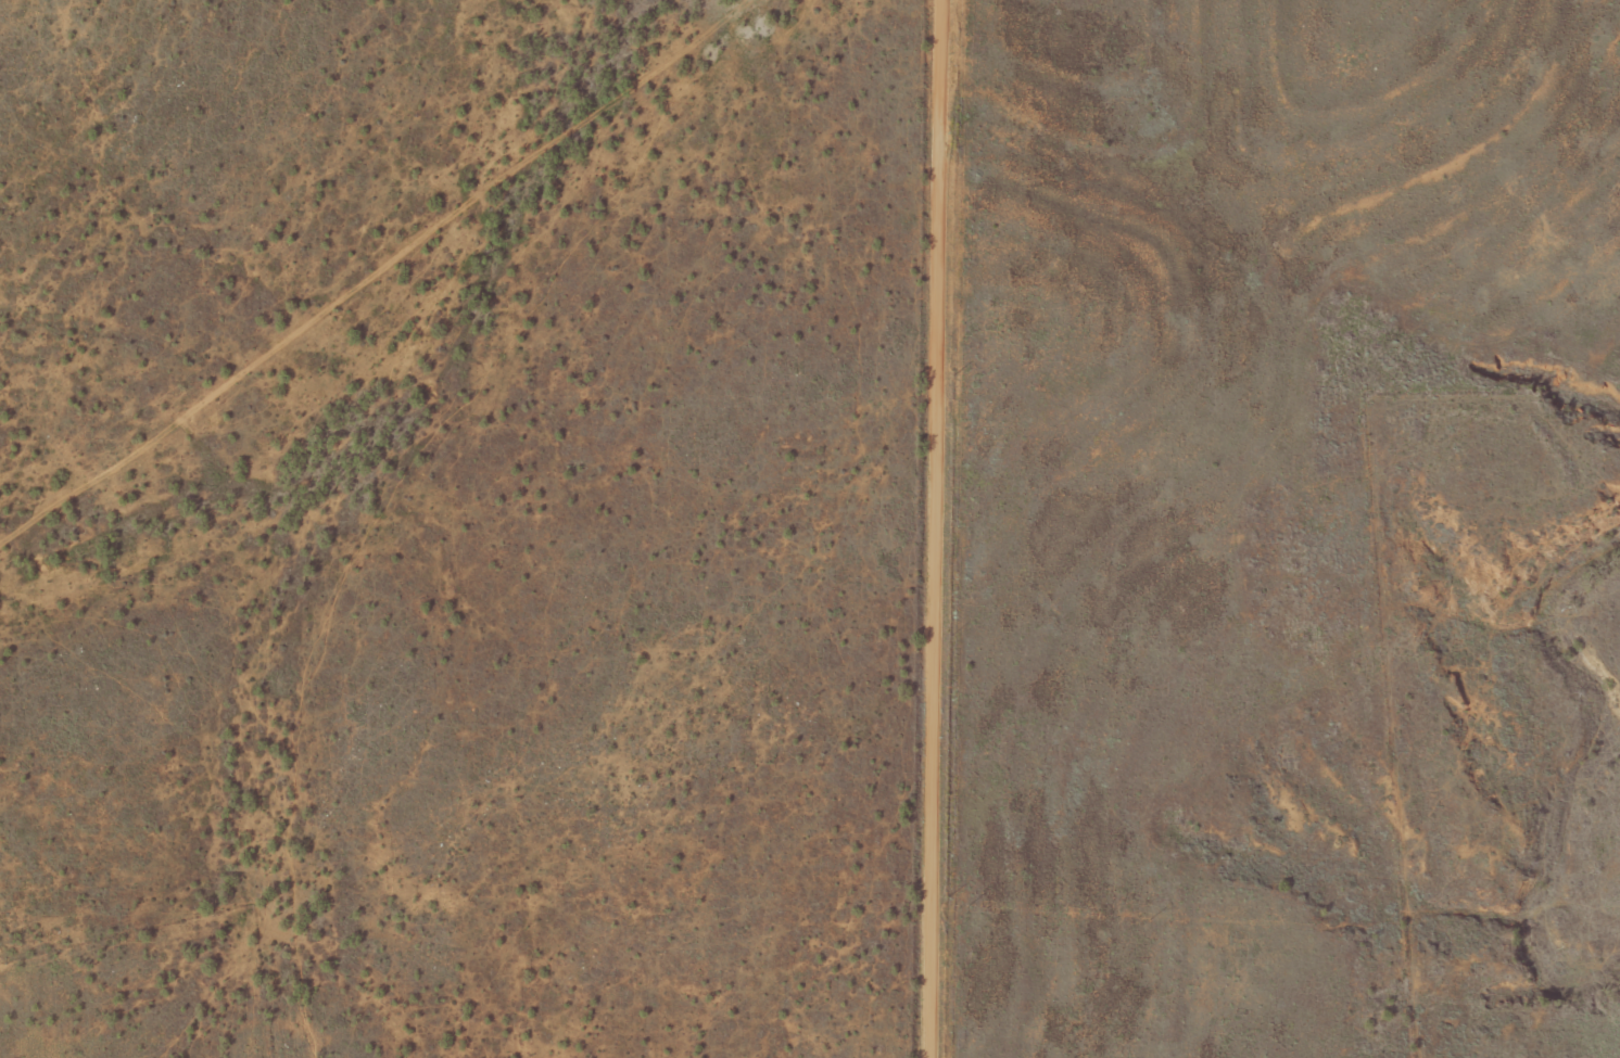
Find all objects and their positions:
road: (974, 528)

